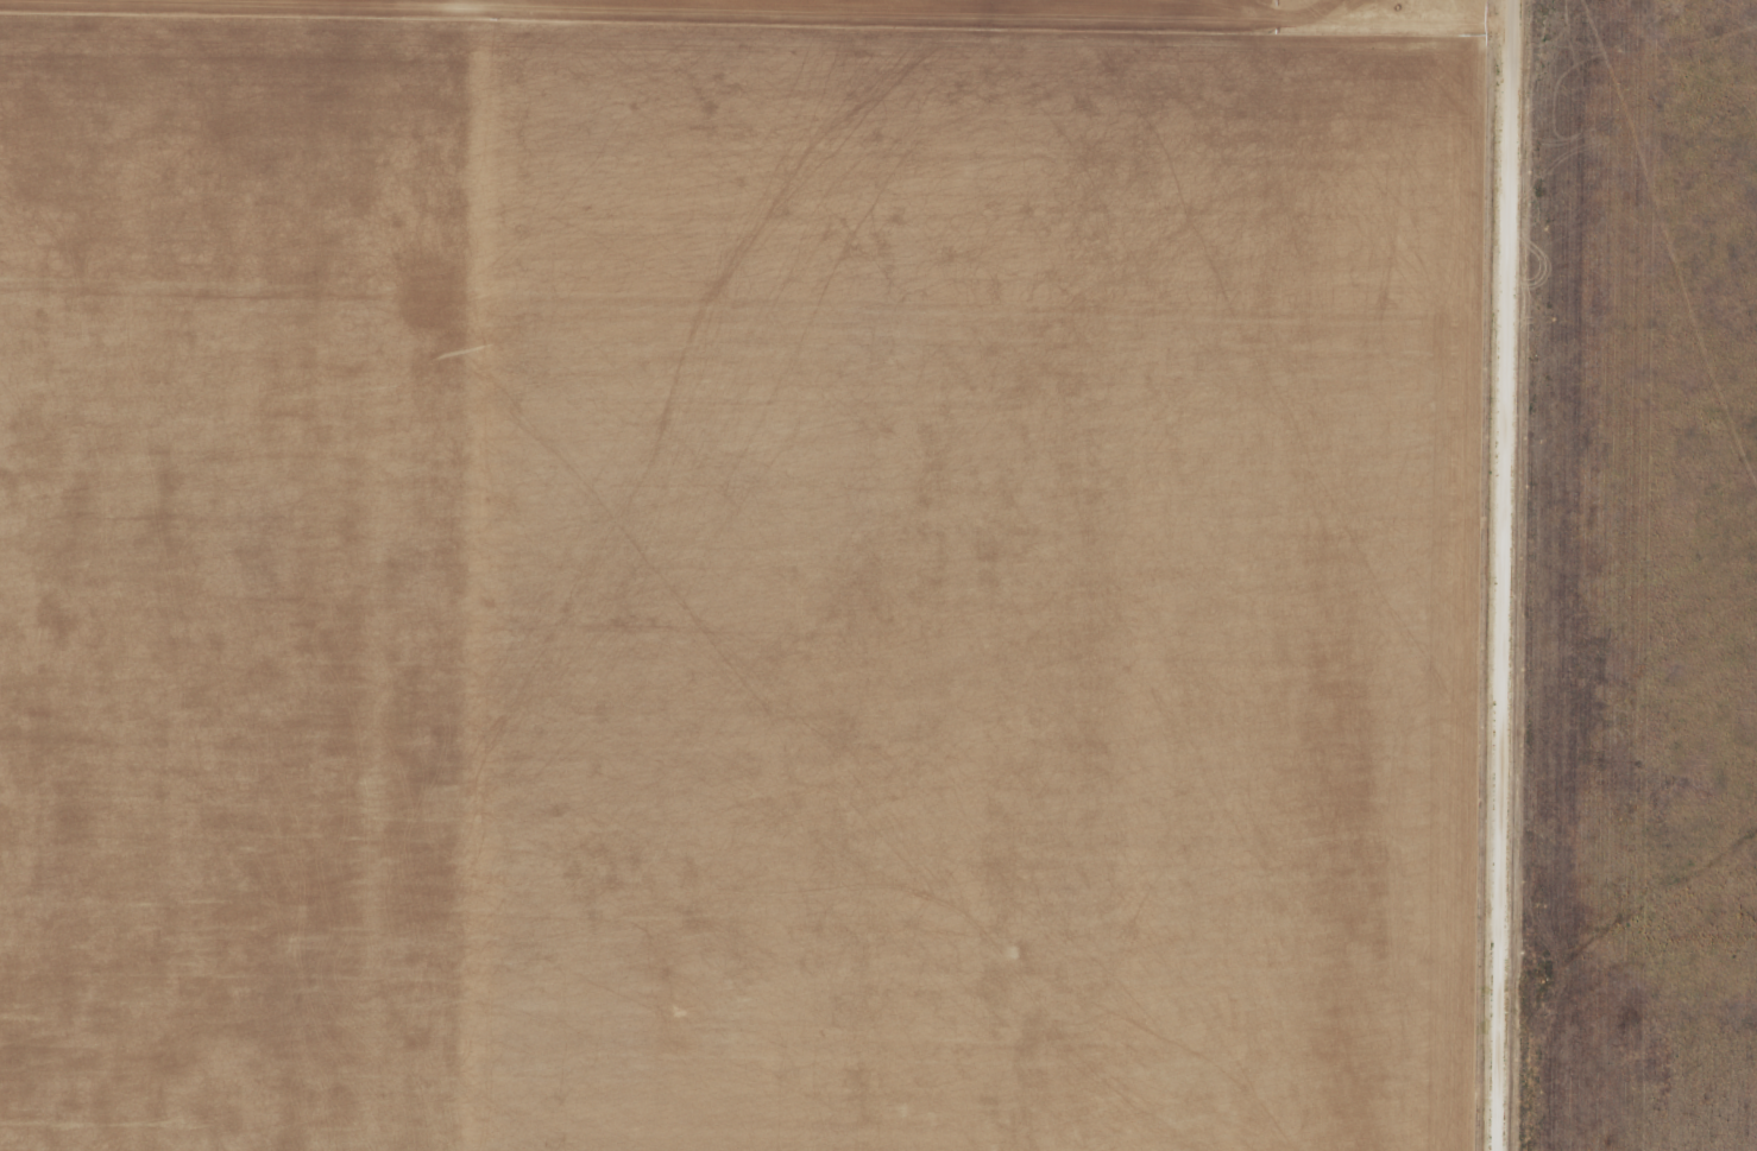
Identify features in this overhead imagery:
road: (1505, 575)

